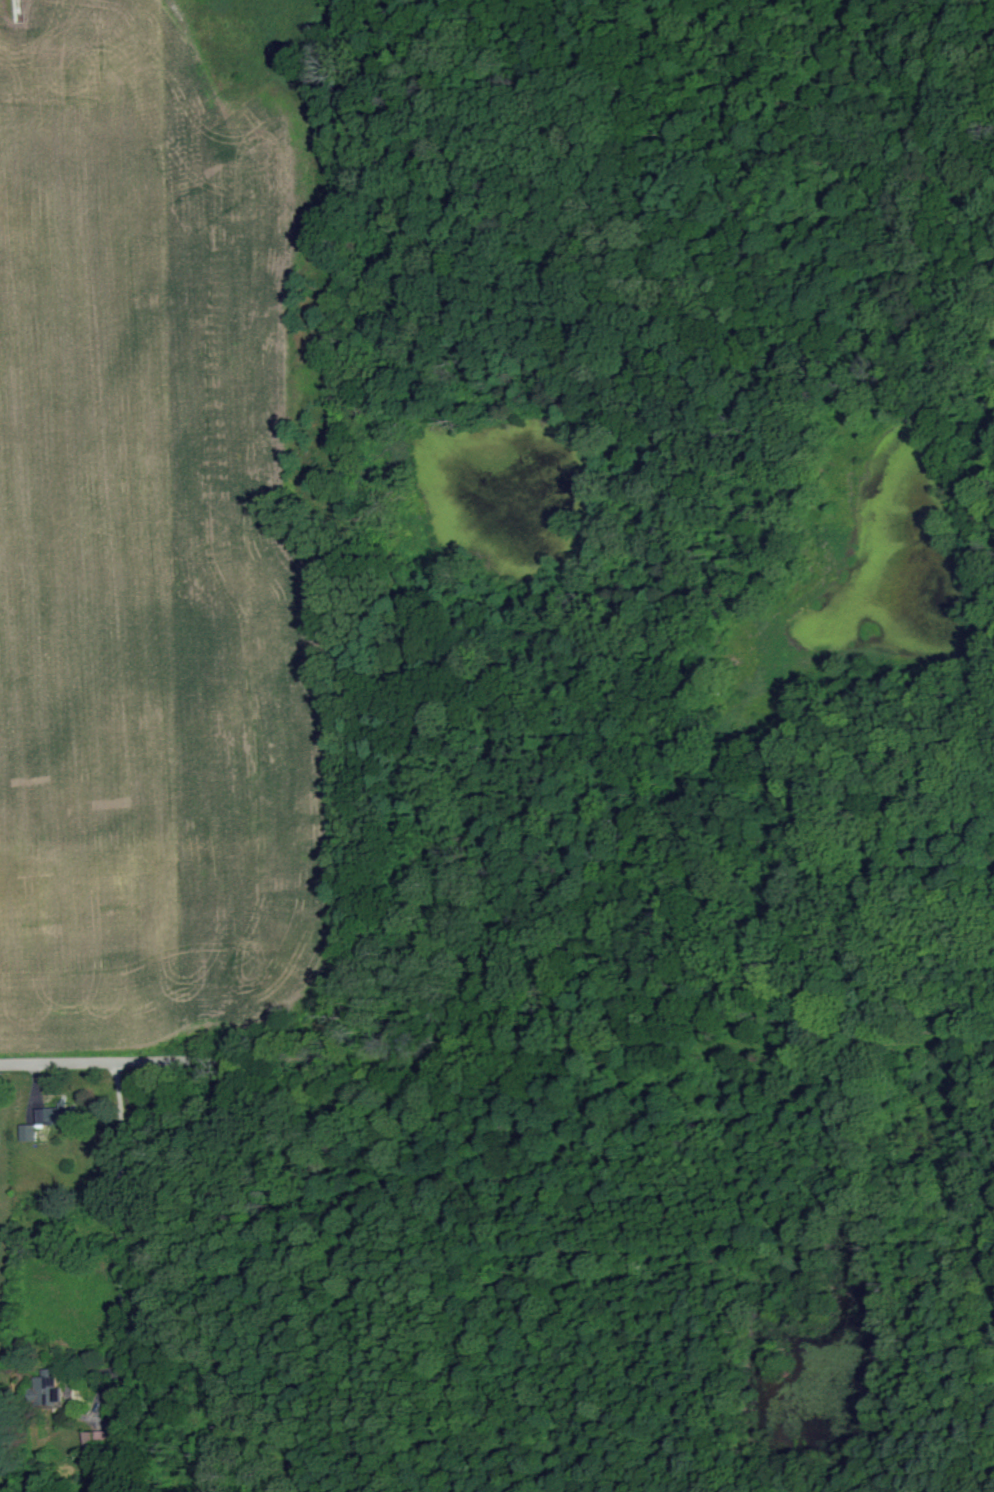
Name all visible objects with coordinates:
park: (624, 790)
road: (623, 1050)
road: (126, 1060)
building: (66, 1114)
building: (34, 1131)
road: (123, 1242)
building: (57, 1388)
building: (104, 1439)

